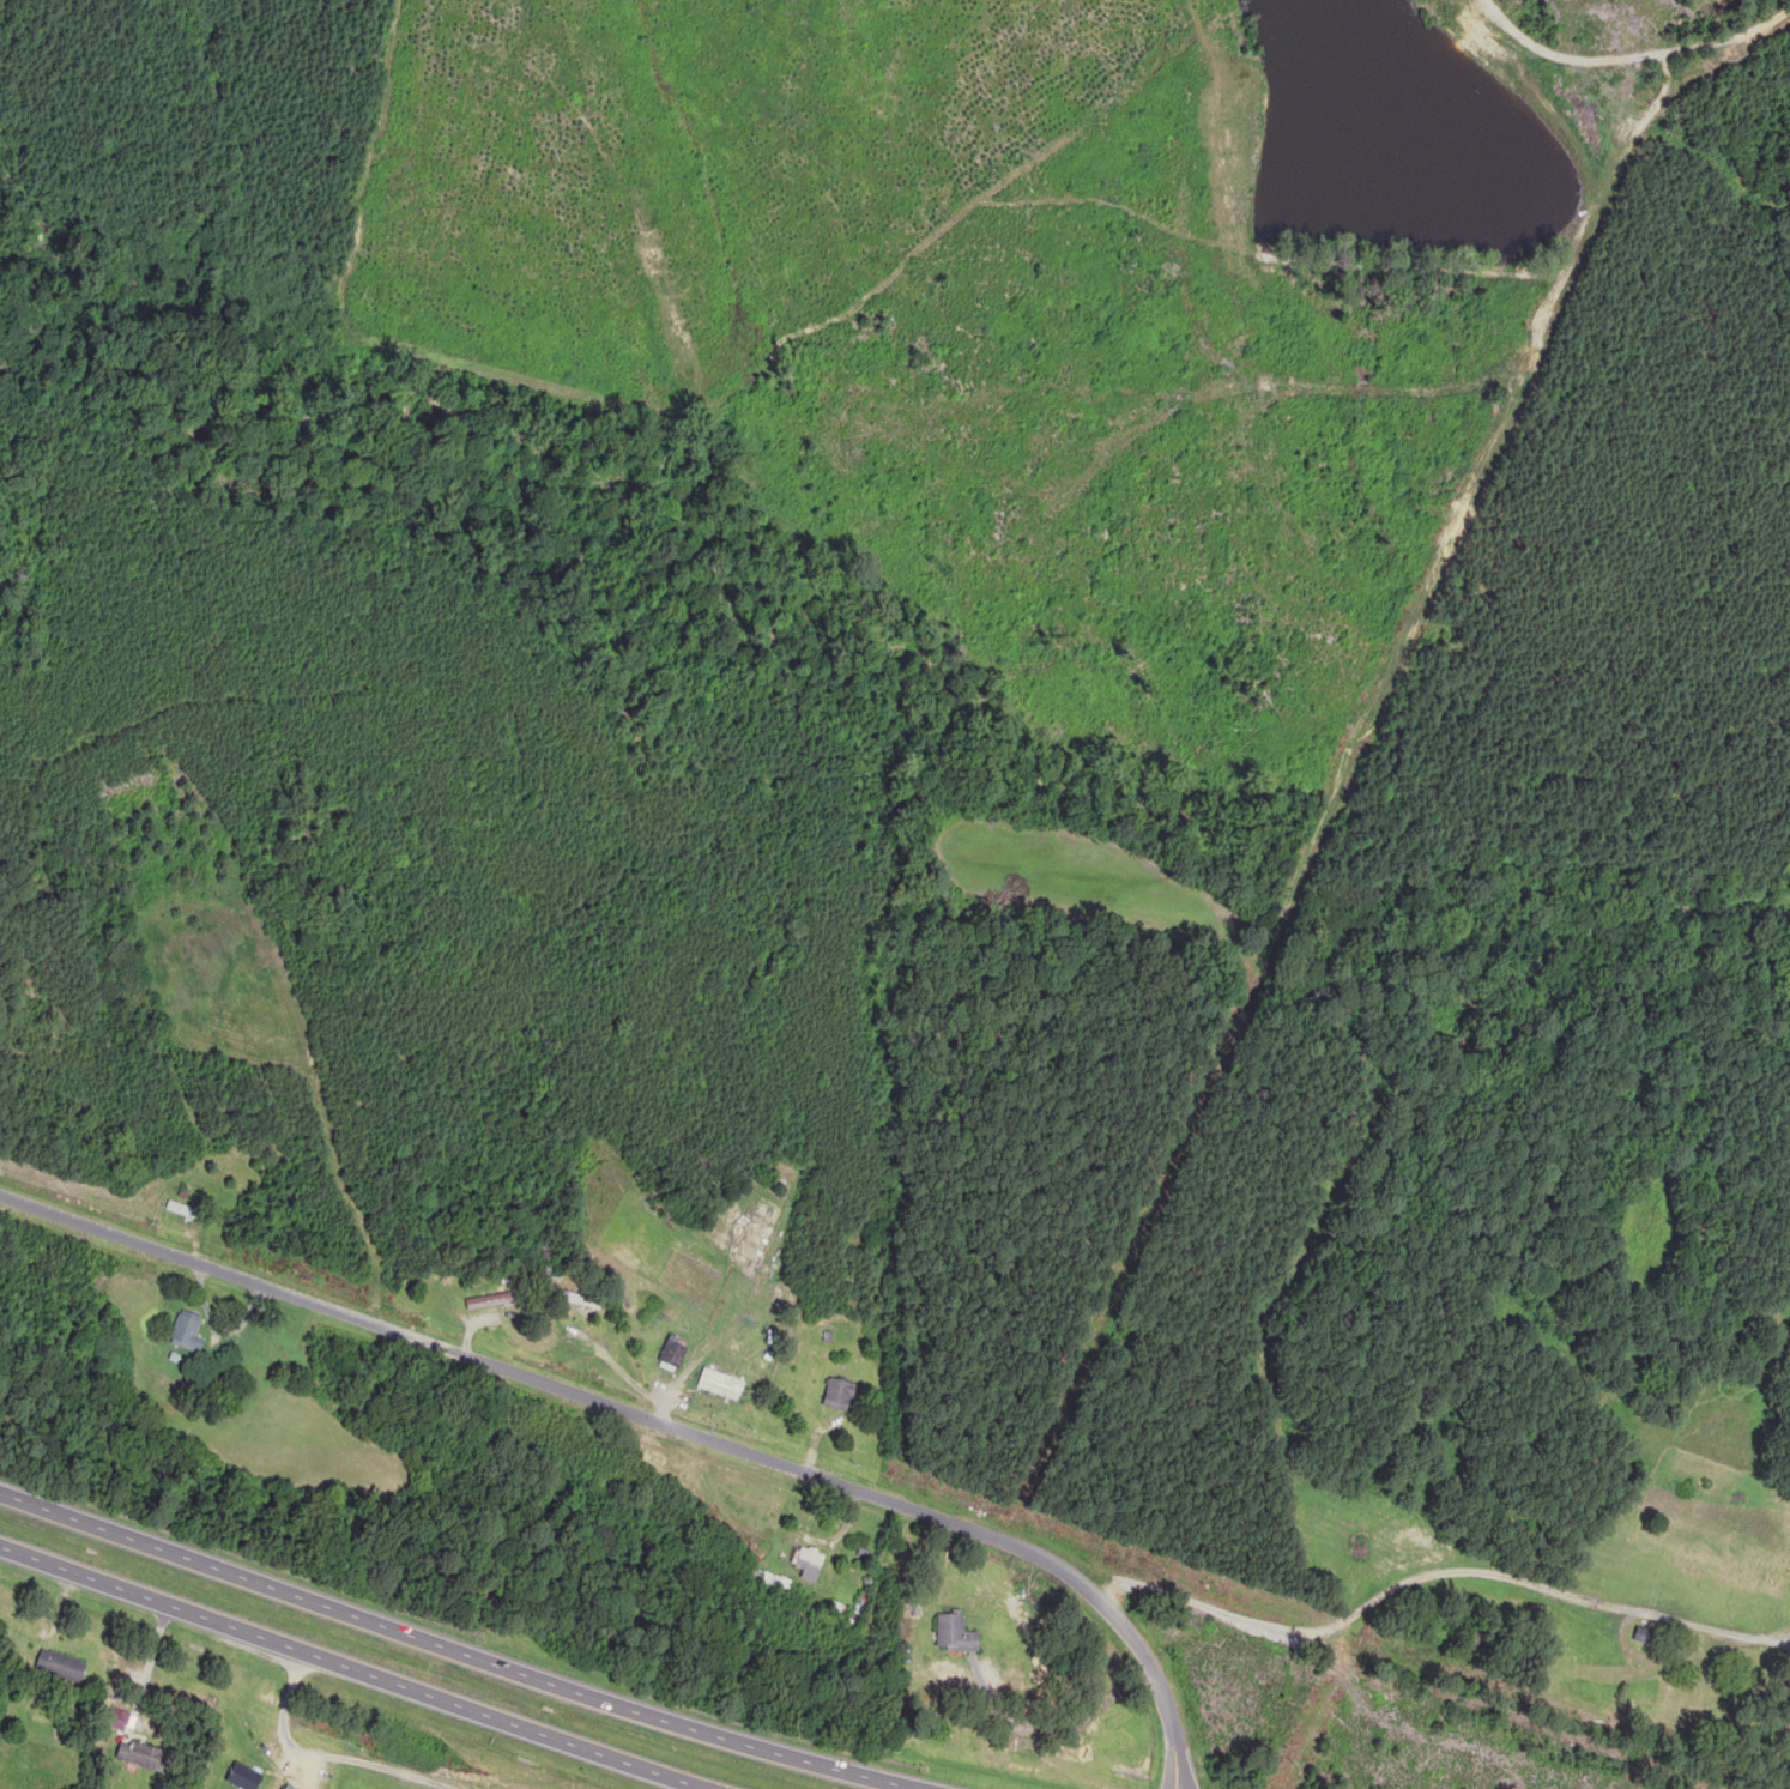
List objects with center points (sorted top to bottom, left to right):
road: (1649, 67)
building: (180, 1210)
building: (551, 1270)
building: (486, 1301)
road: (570, 1328)
building: (183, 1334)
building: (835, 1395)
road: (655, 1419)
building: (806, 1566)
building: (769, 1579)
building: (954, 1634)
road: (458, 1650)
building: (55, 1666)
road: (351, 1667)
building: (242, 1777)
building: (285, 1787)

